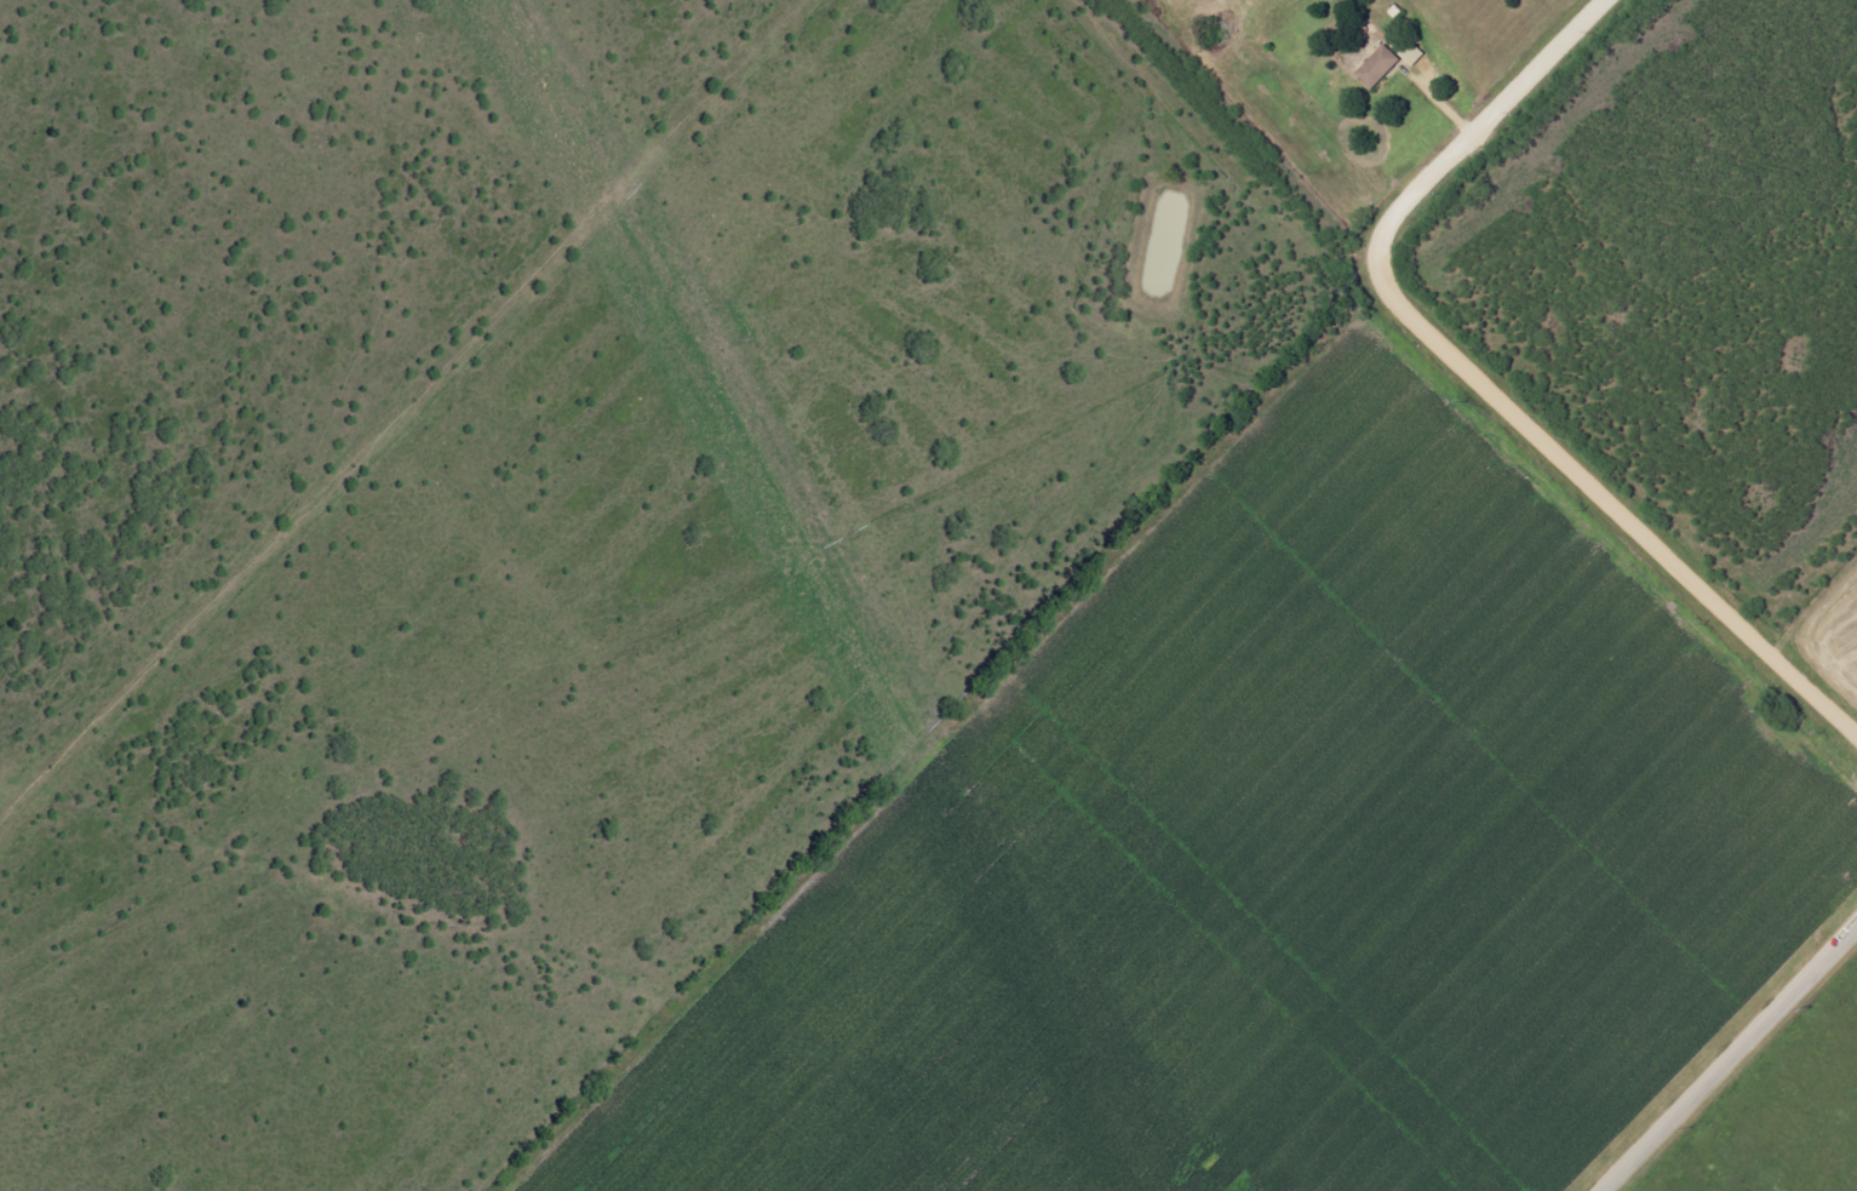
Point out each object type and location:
building: (1372, 65)
road: (1484, 383)
road: (1732, 1060)

